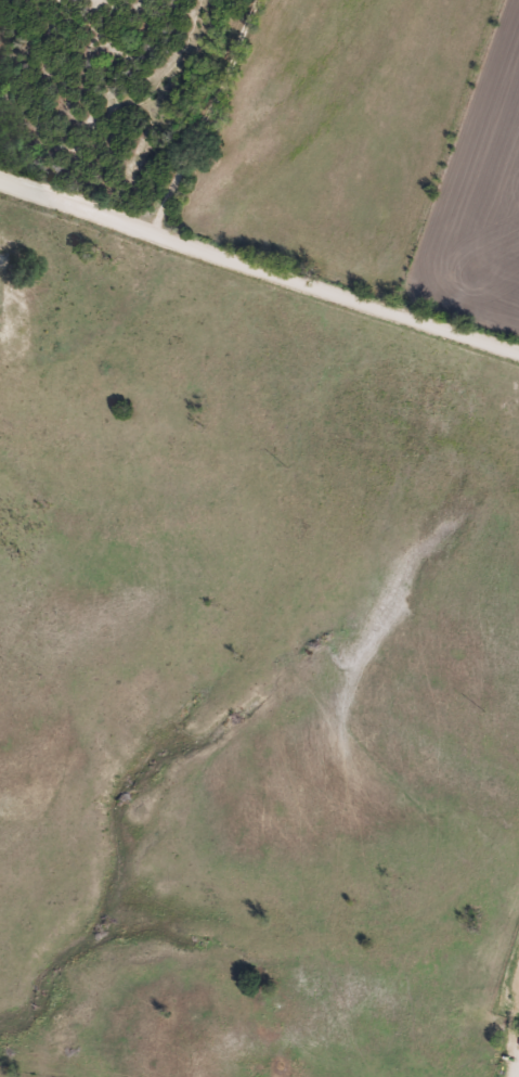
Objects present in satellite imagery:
road: (259, 264)

